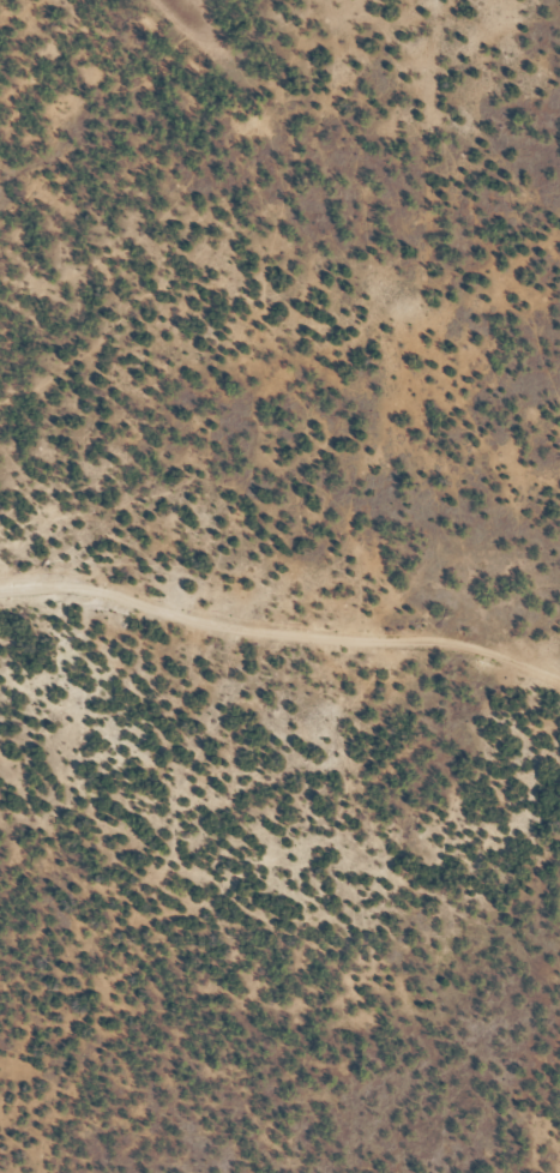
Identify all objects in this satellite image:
road: (281, 625)

